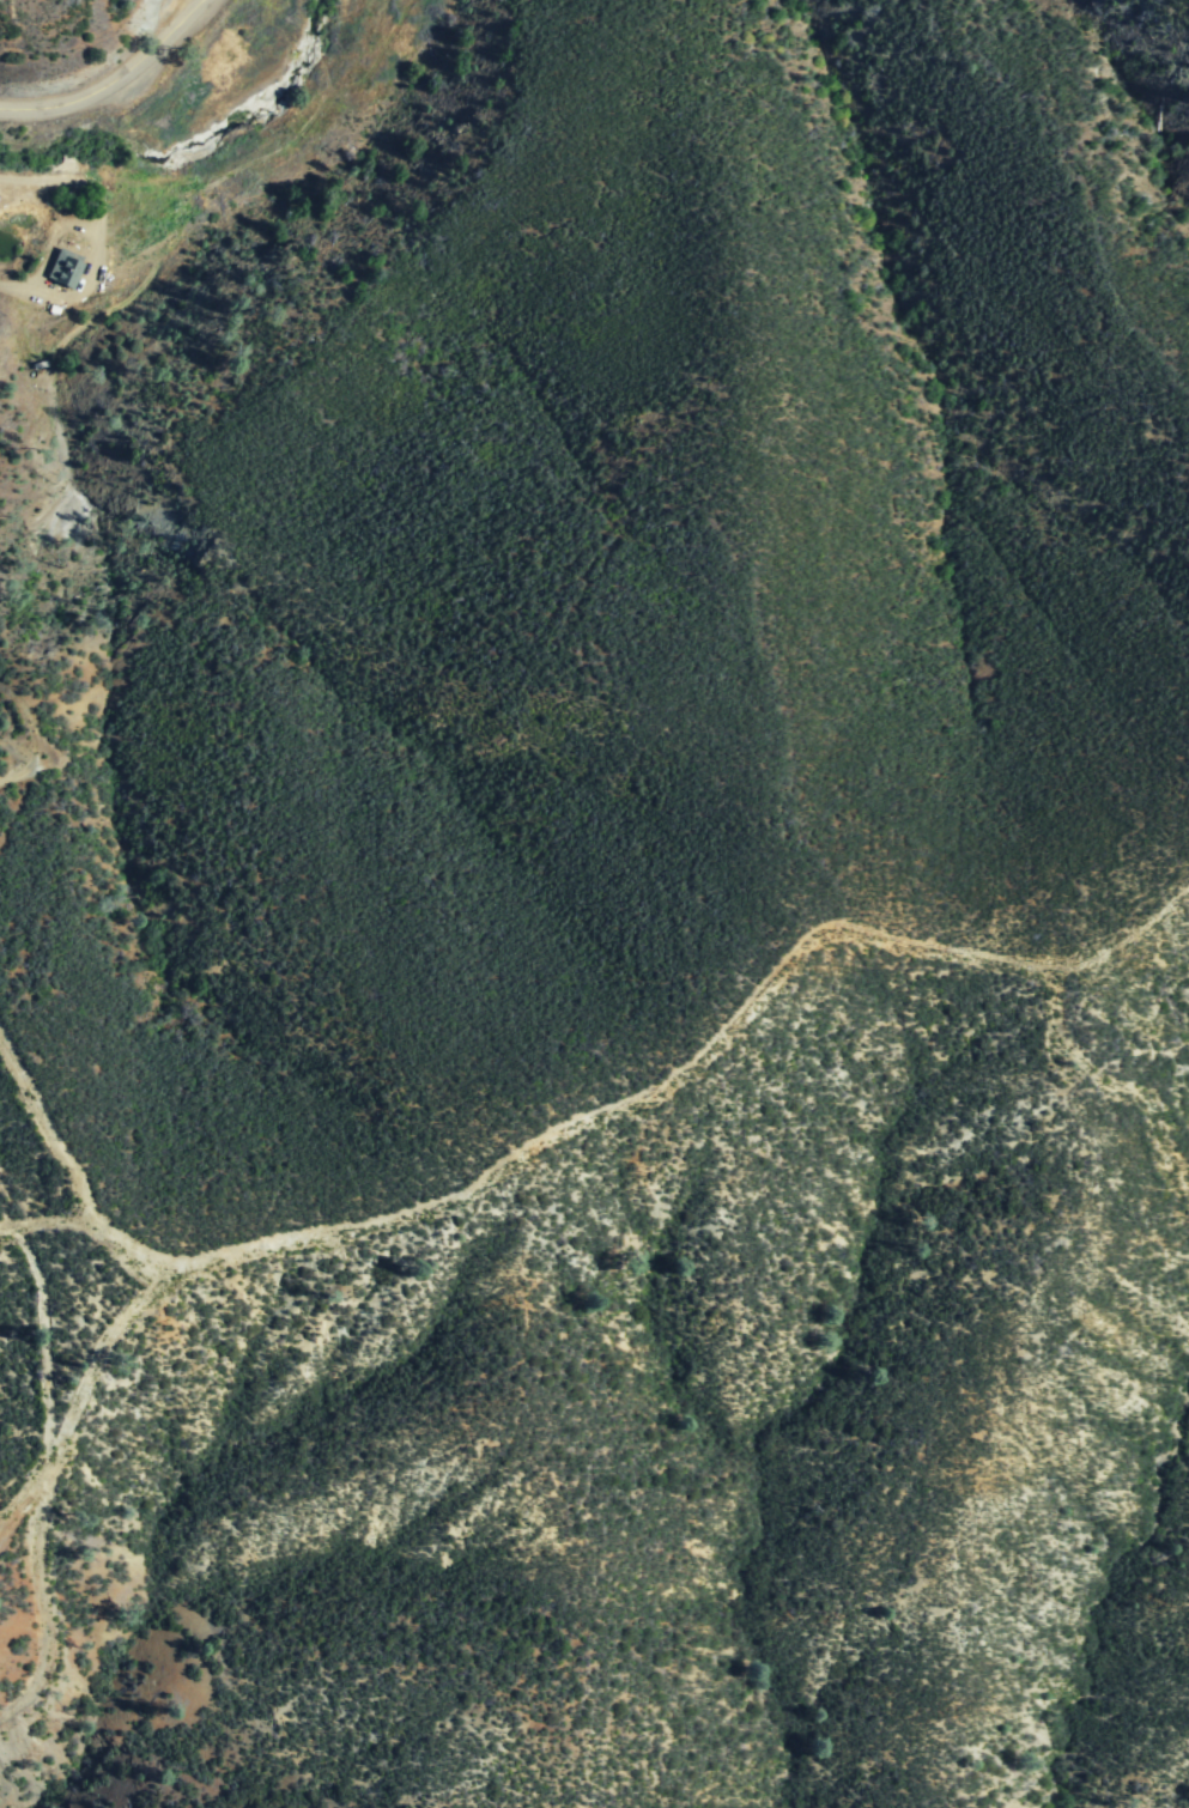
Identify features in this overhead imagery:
road: (176, 4)
road: (107, 79)
building: (63, 268)

